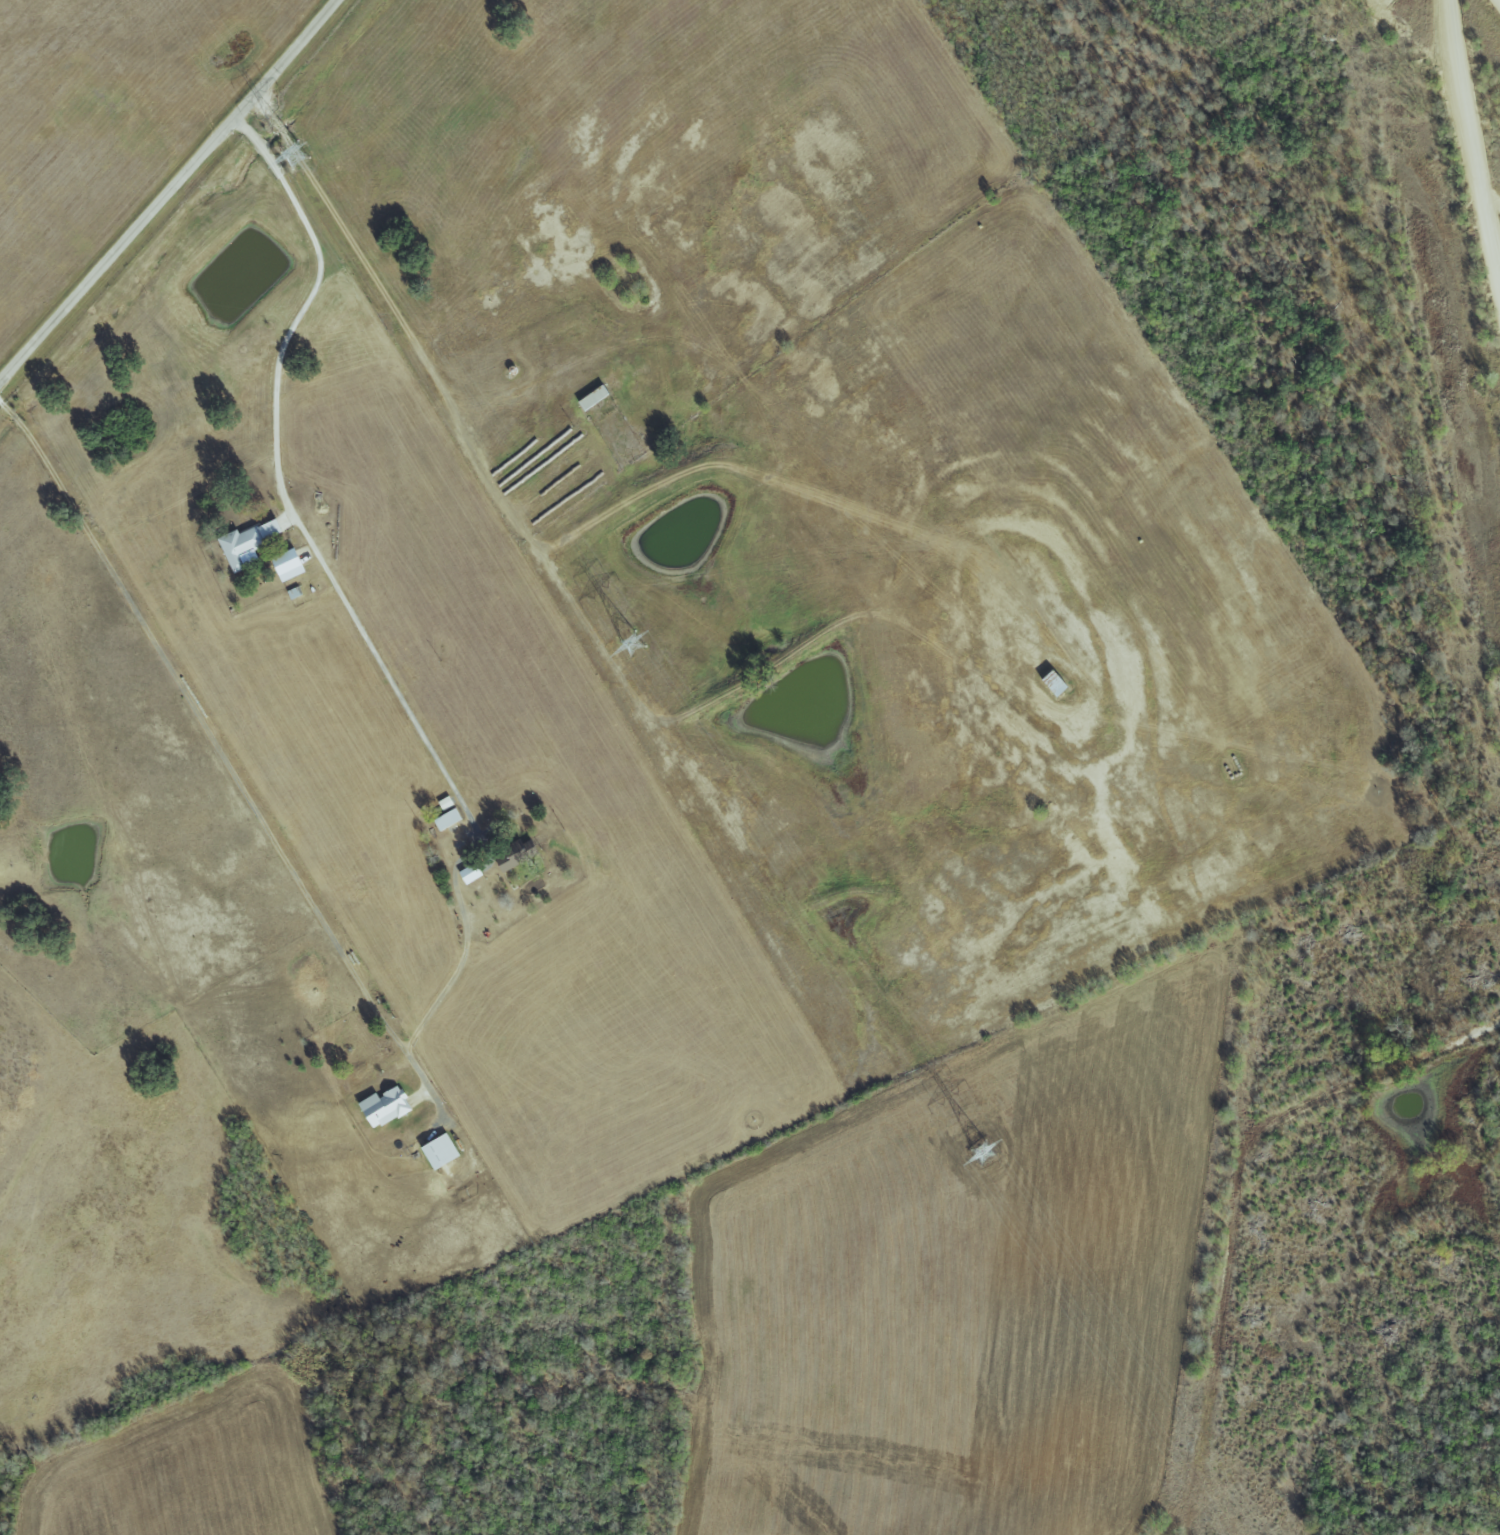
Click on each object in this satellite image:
road: (243, 130)
road: (259, 148)
power tower: (294, 154)
road: (170, 192)
road: (3, 406)
road: (14, 419)
building: (248, 542)
building: (290, 565)
power tower: (632, 643)
building: (450, 819)
building: (518, 854)
road: (463, 932)
building: (385, 1107)
building: (442, 1152)
power tower: (983, 1152)

